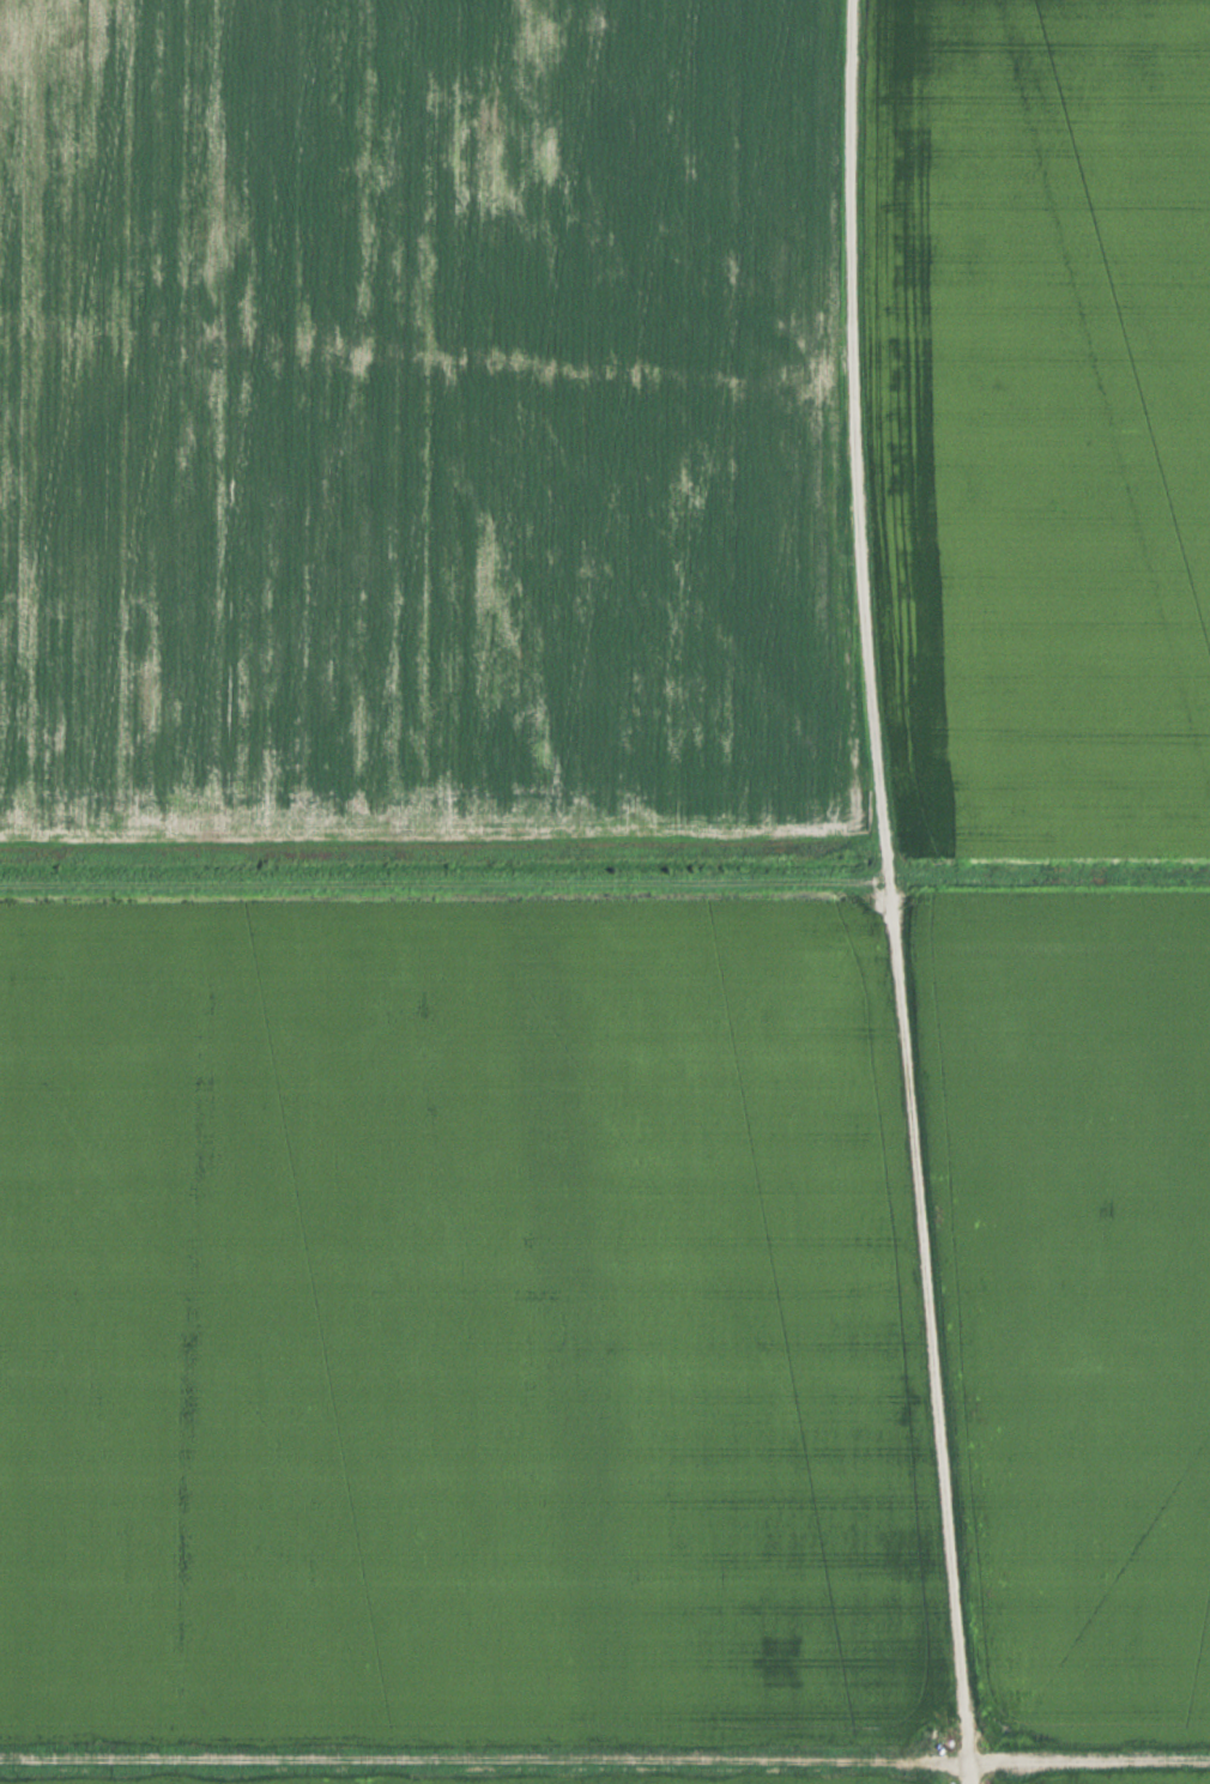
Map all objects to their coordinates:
road: (895, 893)

